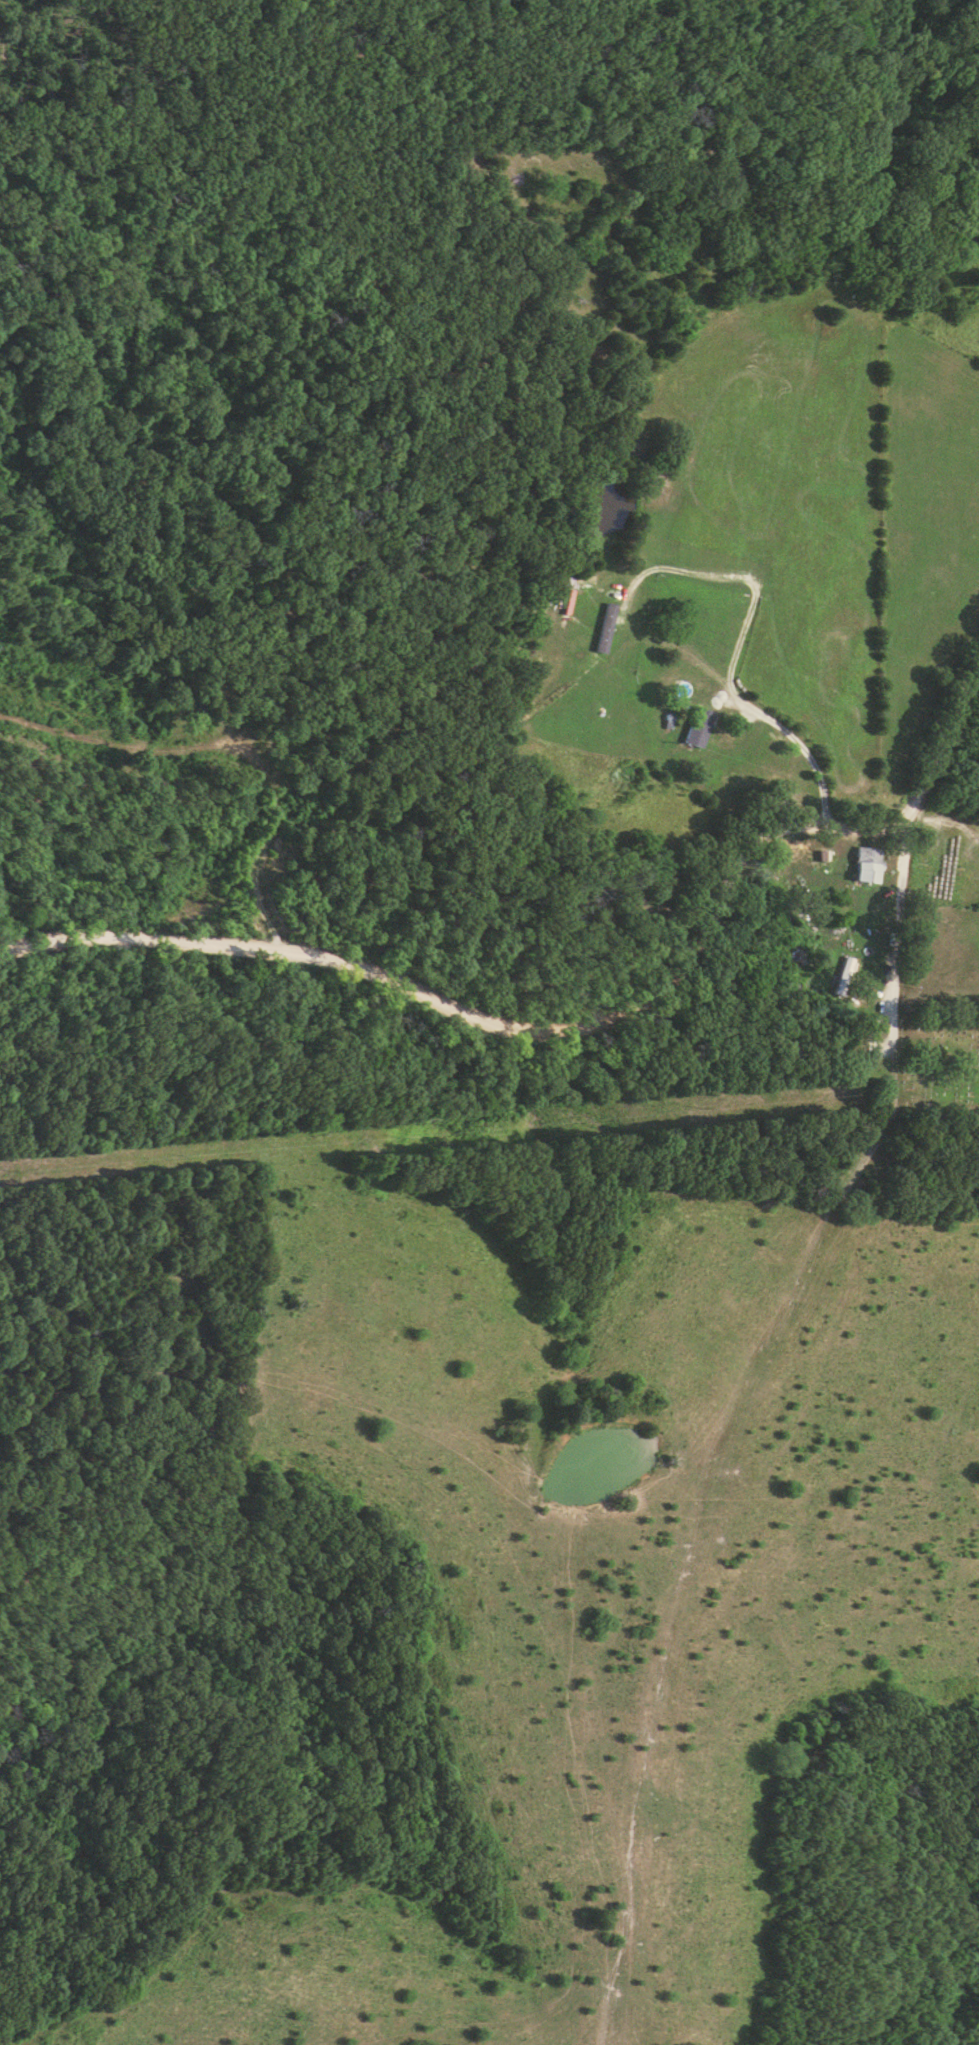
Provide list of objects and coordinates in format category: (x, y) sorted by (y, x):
building: (606, 628)
road: (754, 713)
building: (699, 730)
road: (938, 733)
building: (866, 870)
road: (489, 1018)
road: (895, 1189)

